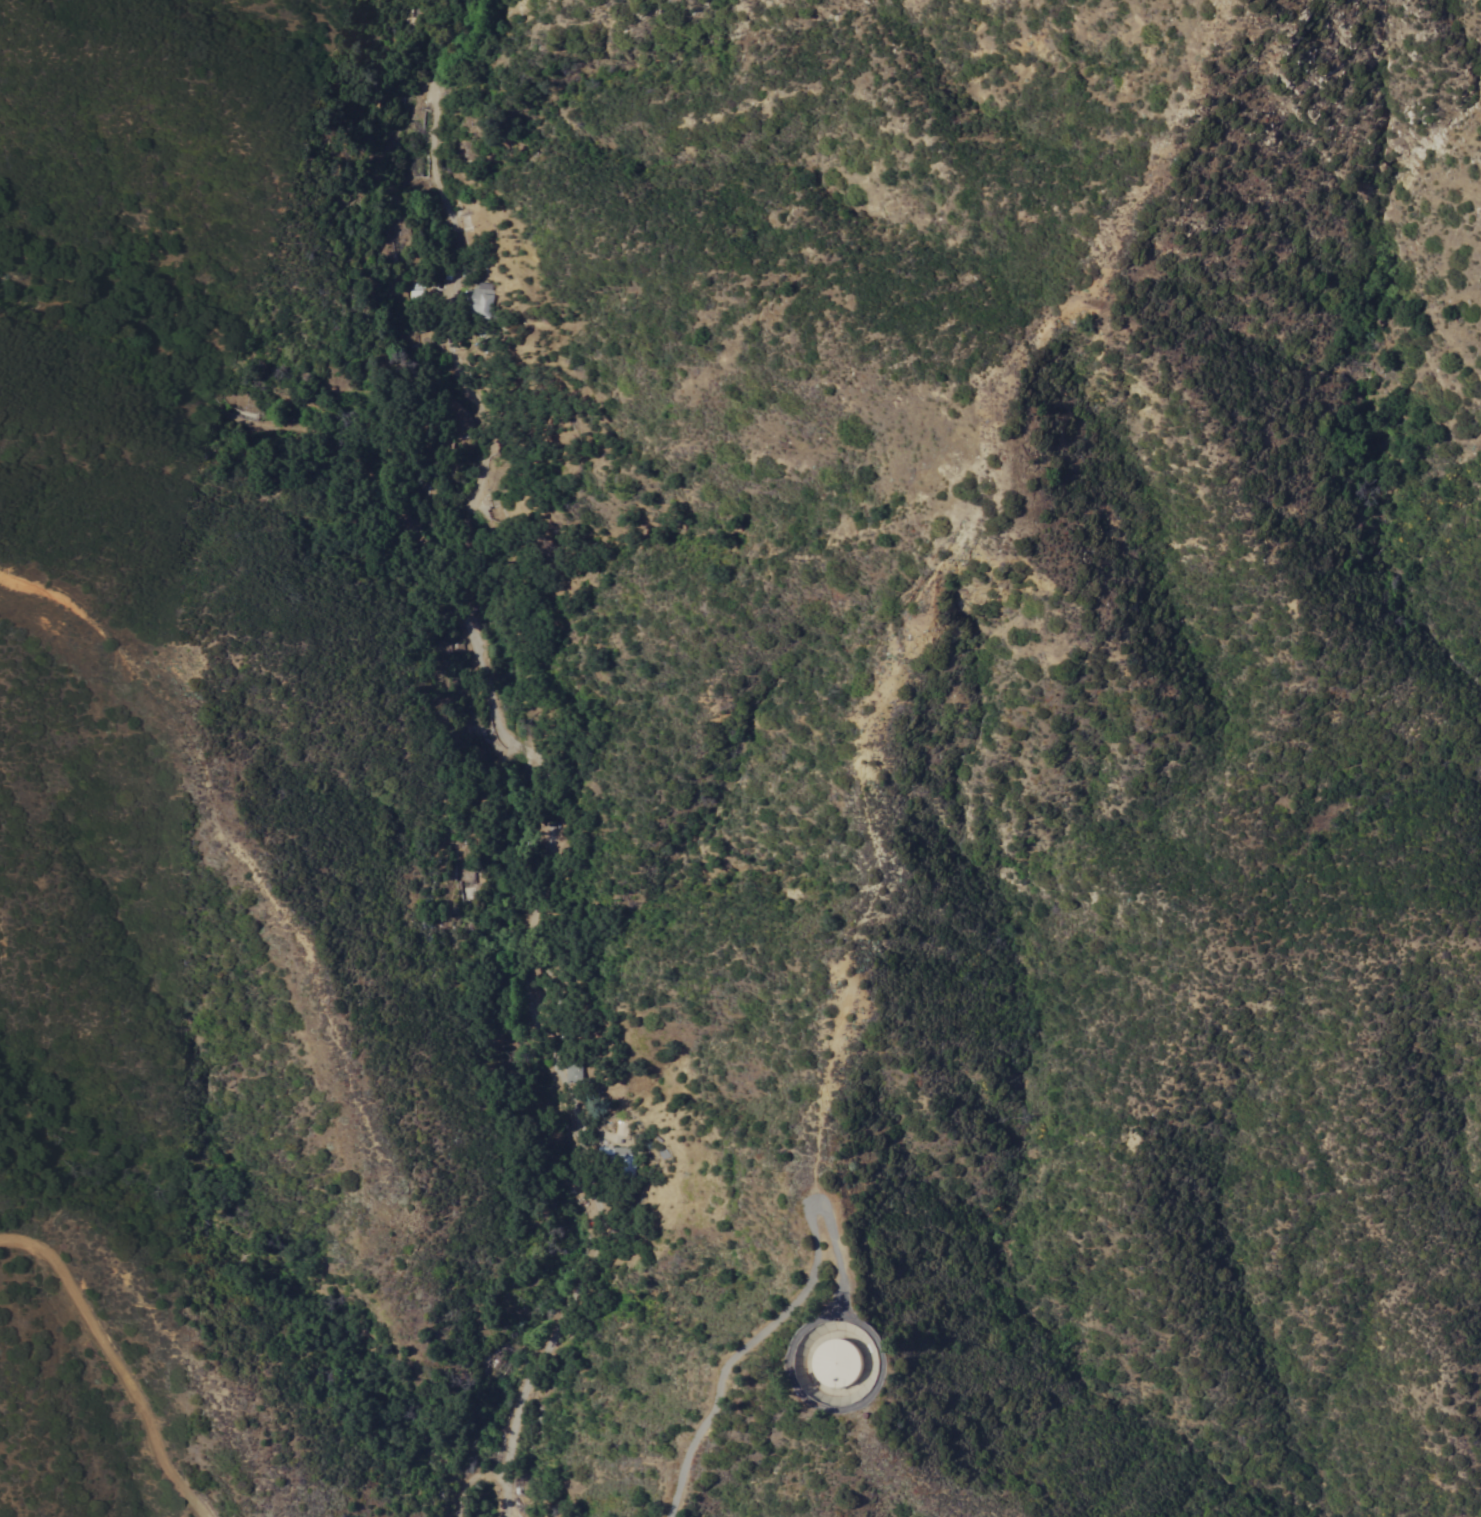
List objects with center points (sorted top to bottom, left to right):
building: (480, 301)
road: (480, 770)
road: (232, 843)
building: (573, 1073)
building: (621, 1129)
building: (615, 1155)
road: (784, 1312)
road: (118, 1361)
building: (838, 1364)
road: (469, 1487)

